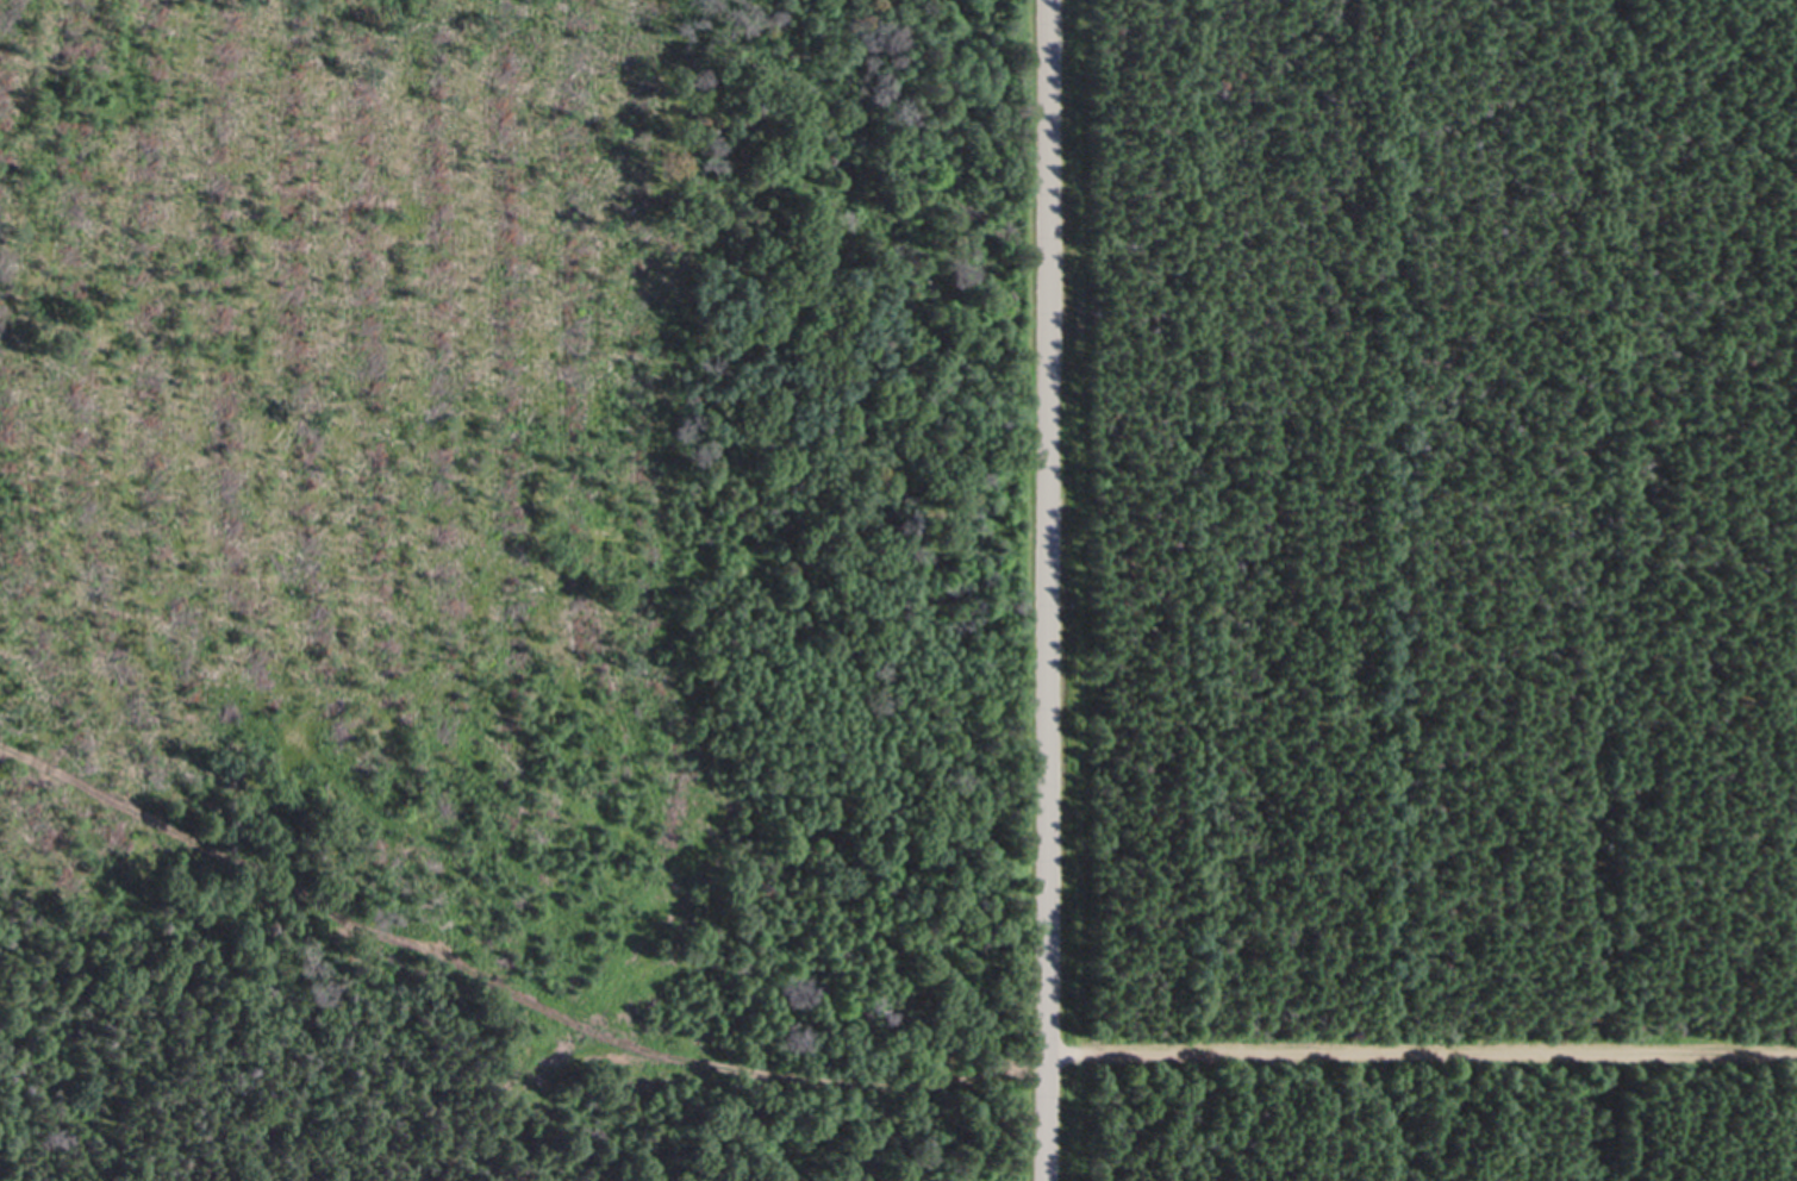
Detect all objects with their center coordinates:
road: (1049, 590)
road: (1423, 1051)

